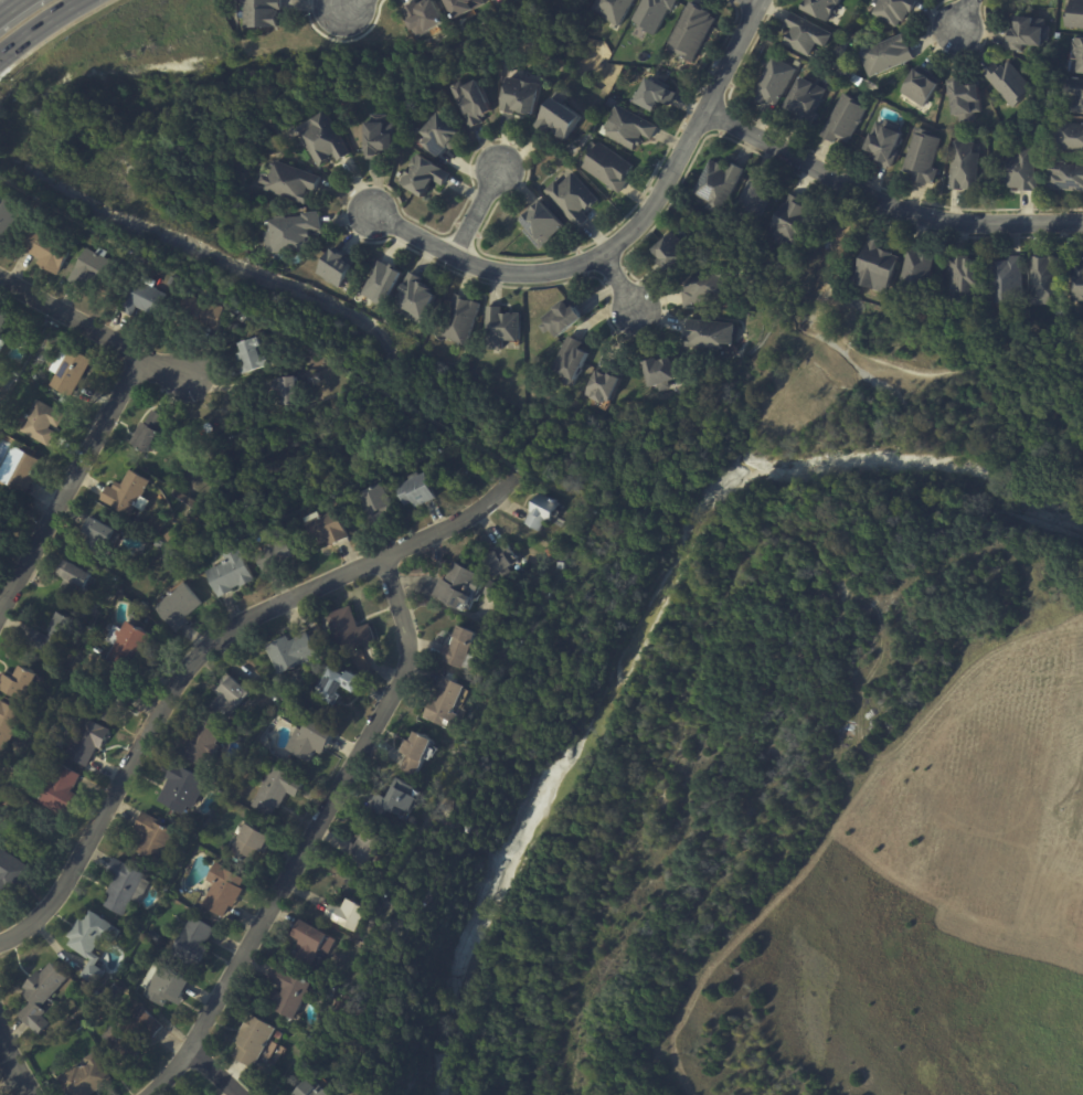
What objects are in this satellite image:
building: (495, 0)
building: (502, 0)
road: (9, 7)
building: (460, 7)
road: (363, 9)
building: (821, 9)
building: (610, 10)
building: (894, 11)
building: (259, 13)
road: (960, 13)
building: (651, 14)
building: (1074, 15)
building: (421, 21)
road: (39, 26)
building: (690, 33)
building: (1026, 34)
building: (805, 36)
building: (885, 56)
building: (1077, 57)
building: (796, 64)
building: (773, 83)
building: (1008, 84)
building: (921, 87)
building: (1074, 95)
building: (655, 96)
building: (519, 98)
building: (965, 99)
building: (804, 103)
building: (471, 104)
building: (610, 104)
building: (558, 117)
building: (845, 120)
building: (626, 129)
building: (1069, 137)
building: (378, 138)
building: (442, 138)
building: (1018, 138)
building: (322, 142)
building: (883, 145)
building: (556, 156)
building: (922, 159)
building: (964, 168)
building: (607, 169)
building: (1019, 171)
building: (423, 178)
building: (1065, 178)
building: (289, 183)
building: (718, 185)
building: (573, 200)
building: (752, 201)
road: (651, 202)
road: (882, 209)
road: (475, 211)
building: (7, 214)
building: (793, 223)
building: (541, 226)
road: (413, 233)
building: (289, 234)
building: (756, 242)
building: (44, 248)
building: (670, 254)
building: (95, 265)
building: (875, 268)
building: (335, 269)
building: (916, 276)
building: (964, 279)
road: (617, 280)
building: (1043, 280)
building: (1006, 283)
building: (1079, 284)
building: (381, 285)
building: (705, 289)
building: (144, 296)
building: (413, 300)
building: (200, 311)
building: (563, 318)
building: (460, 320)
building: (3, 321)
building: (387, 322)
building: (501, 330)
road: (94, 332)
building: (712, 337)
building: (251, 354)
building: (571, 361)
building: (67, 370)
building: (14, 373)
building: (660, 375)
building: (6, 380)
building: (284, 389)
building: (602, 389)
building: (17, 393)
building: (62, 401)
building: (39, 423)
building: (149, 434)
building: (19, 470)
road: (67, 482)
building: (414, 490)
building: (128, 495)
building: (371, 502)
building: (542, 511)
building: (2, 514)
building: (326, 531)
building: (97, 535)
building: (170, 535)
building: (160, 545)
building: (274, 555)
building: (497, 563)
building: (229, 574)
building: (75, 581)
building: (456, 586)
building: (493, 591)
building: (178, 607)
building: (348, 630)
building: (52, 636)
building: (127, 645)
building: (459, 649)
building: (96, 650)
building: (327, 652)
building: (289, 655)
road: (209, 656)
building: (19, 684)
building: (337, 685)
building: (226, 697)
building: (113, 703)
building: (445, 706)
building: (7, 723)
building: (309, 738)
building: (87, 742)
building: (201, 745)
building: (415, 753)
building: (12, 767)
building: (182, 787)
building: (275, 788)
building: (57, 790)
building: (9, 796)
building: (392, 800)
building: (6, 802)
road: (837, 822)
building: (467, 830)
building: (153, 838)
road: (322, 838)
building: (249, 841)
building: (361, 850)
building: (12, 875)
building: (164, 878)
building: (124, 884)
building: (222, 887)
building: (347, 914)
building: (153, 937)
building: (89, 939)
building: (193, 943)
building: (309, 944)
building: (163, 987)
building: (114, 988)
building: (287, 991)
building: (40, 997)
building: (93, 998)
building: (76, 1025)
building: (134, 1032)
building: (277, 1036)
building: (251, 1041)
road: (14, 1062)
road: (220, 1074)
building: (84, 1078)
building: (309, 1091)

